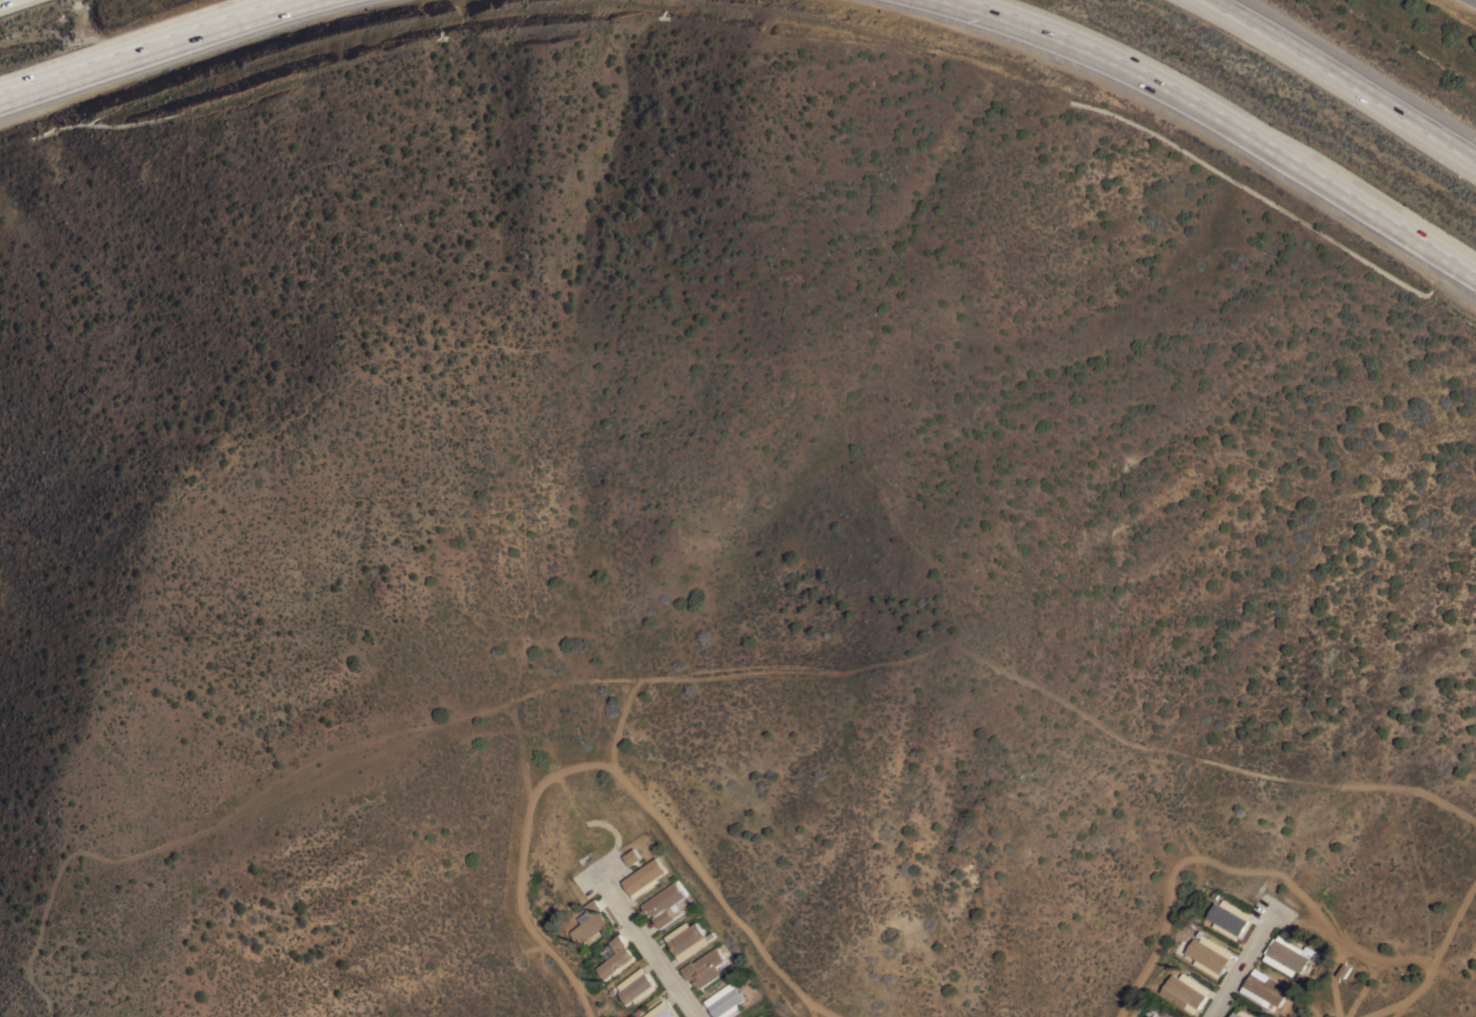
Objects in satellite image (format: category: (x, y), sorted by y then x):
road: (1004, 5)
road: (132, 44)
road: (1350, 76)
road: (1255, 126)
building: (632, 856)
building: (644, 877)
building: (664, 904)
building: (1228, 918)
building: (590, 923)
building: (686, 939)
road: (649, 946)
building: (1208, 953)
building: (1286, 955)
building: (615, 958)
road: (1234, 962)
building: (704, 967)
building: (635, 986)
building: (1264, 988)
building: (1185, 991)
building: (724, 1000)
building: (660, 1011)
building: (1239, 1013)
building: (1161, 1014)
building: (752, 1015)
building: (757, 1016)

